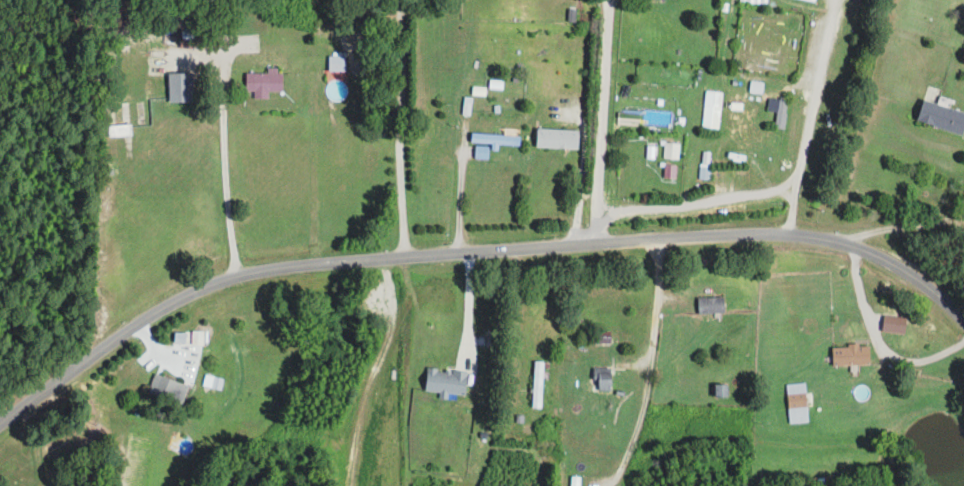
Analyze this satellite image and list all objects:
building: (809, 1)
building: (570, 14)
building: (186, 39)
building: (337, 63)
building: (736, 73)
building: (262, 81)
building: (734, 82)
building: (756, 87)
building: (181, 88)
building: (477, 89)
building: (466, 106)
building: (776, 108)
building: (940, 116)
building: (710, 117)
road: (809, 117)
road: (597, 121)
road: (398, 128)
building: (119, 130)
building: (668, 130)
building: (556, 138)
building: (494, 139)
building: (670, 150)
road: (223, 151)
building: (669, 170)
building: (704, 171)
road: (579, 172)
road: (460, 184)
road: (688, 205)
road: (900, 226)
road: (472, 251)
building: (710, 304)
road: (470, 309)
road: (655, 336)
road: (878, 341)
building: (850, 355)
building: (603, 380)
building: (446, 382)
building: (167, 388)
building: (797, 402)

